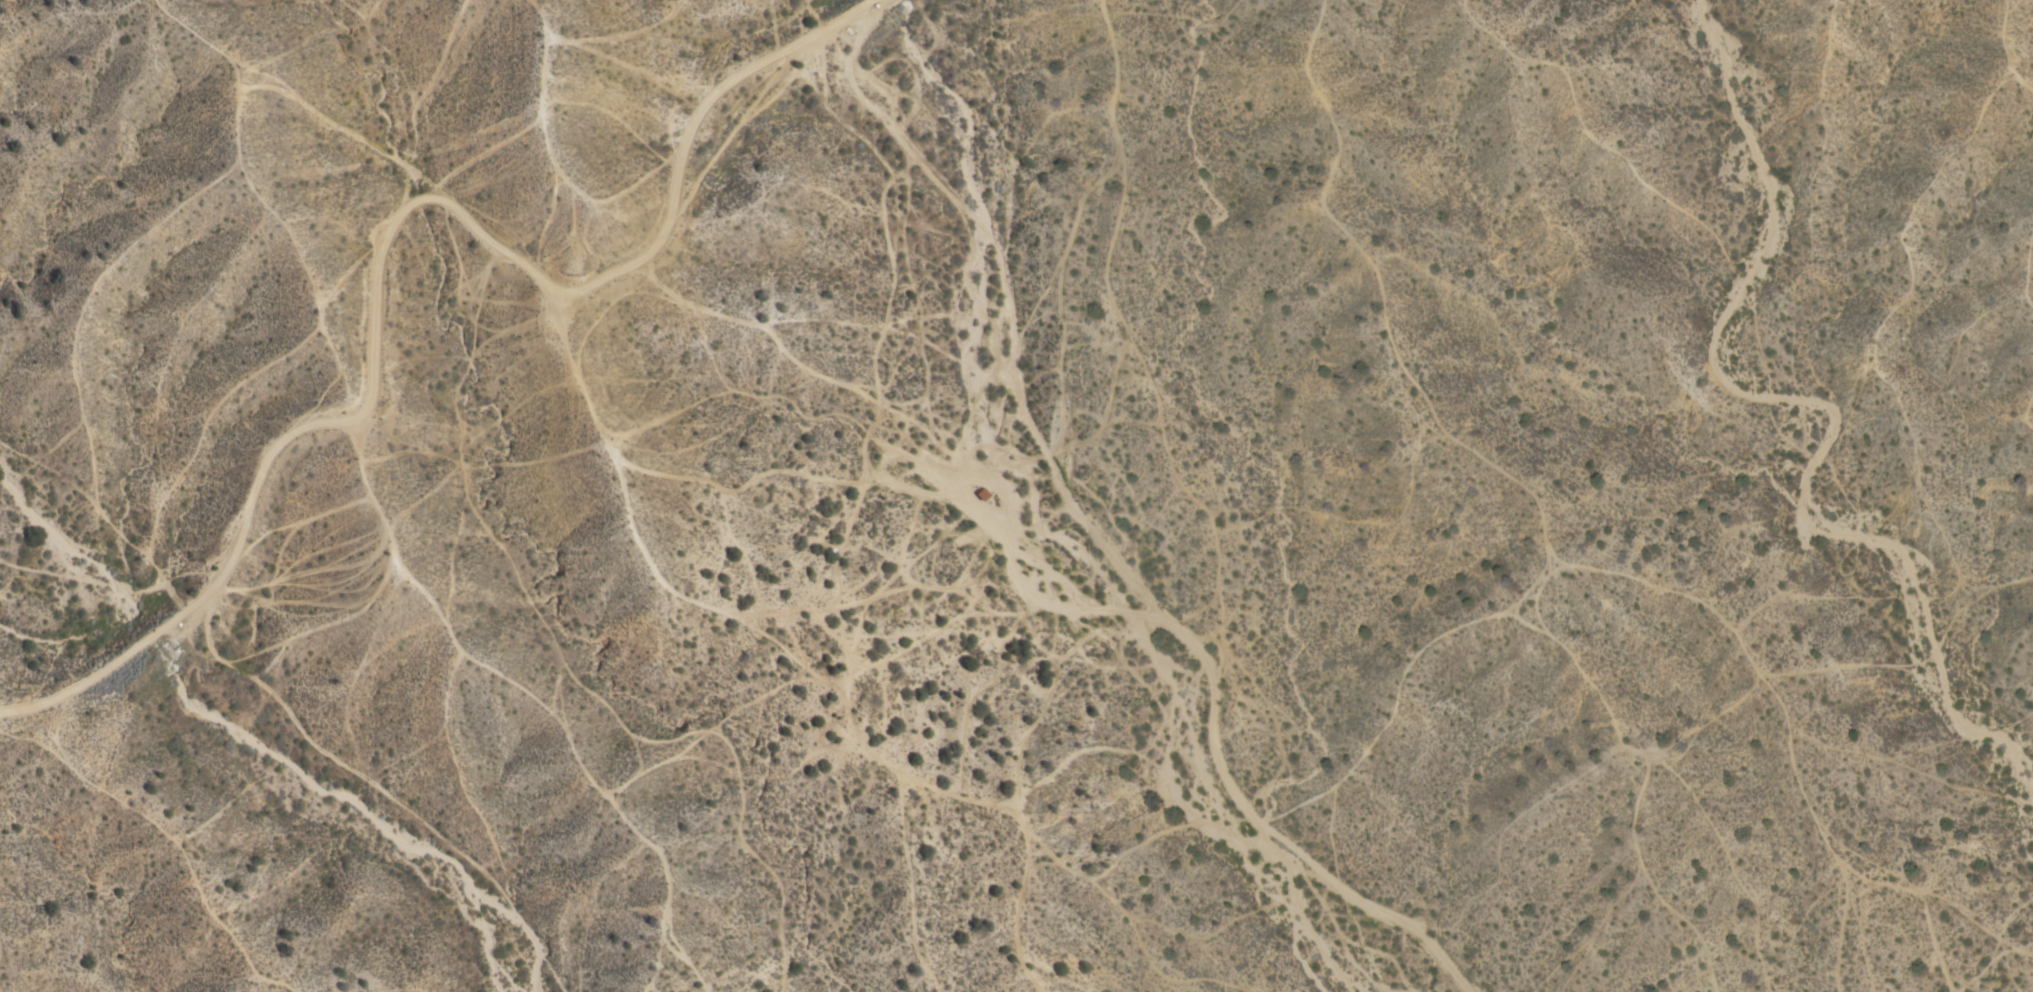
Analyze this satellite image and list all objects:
road: (584, 288)
road: (1097, 546)
road: (200, 592)

